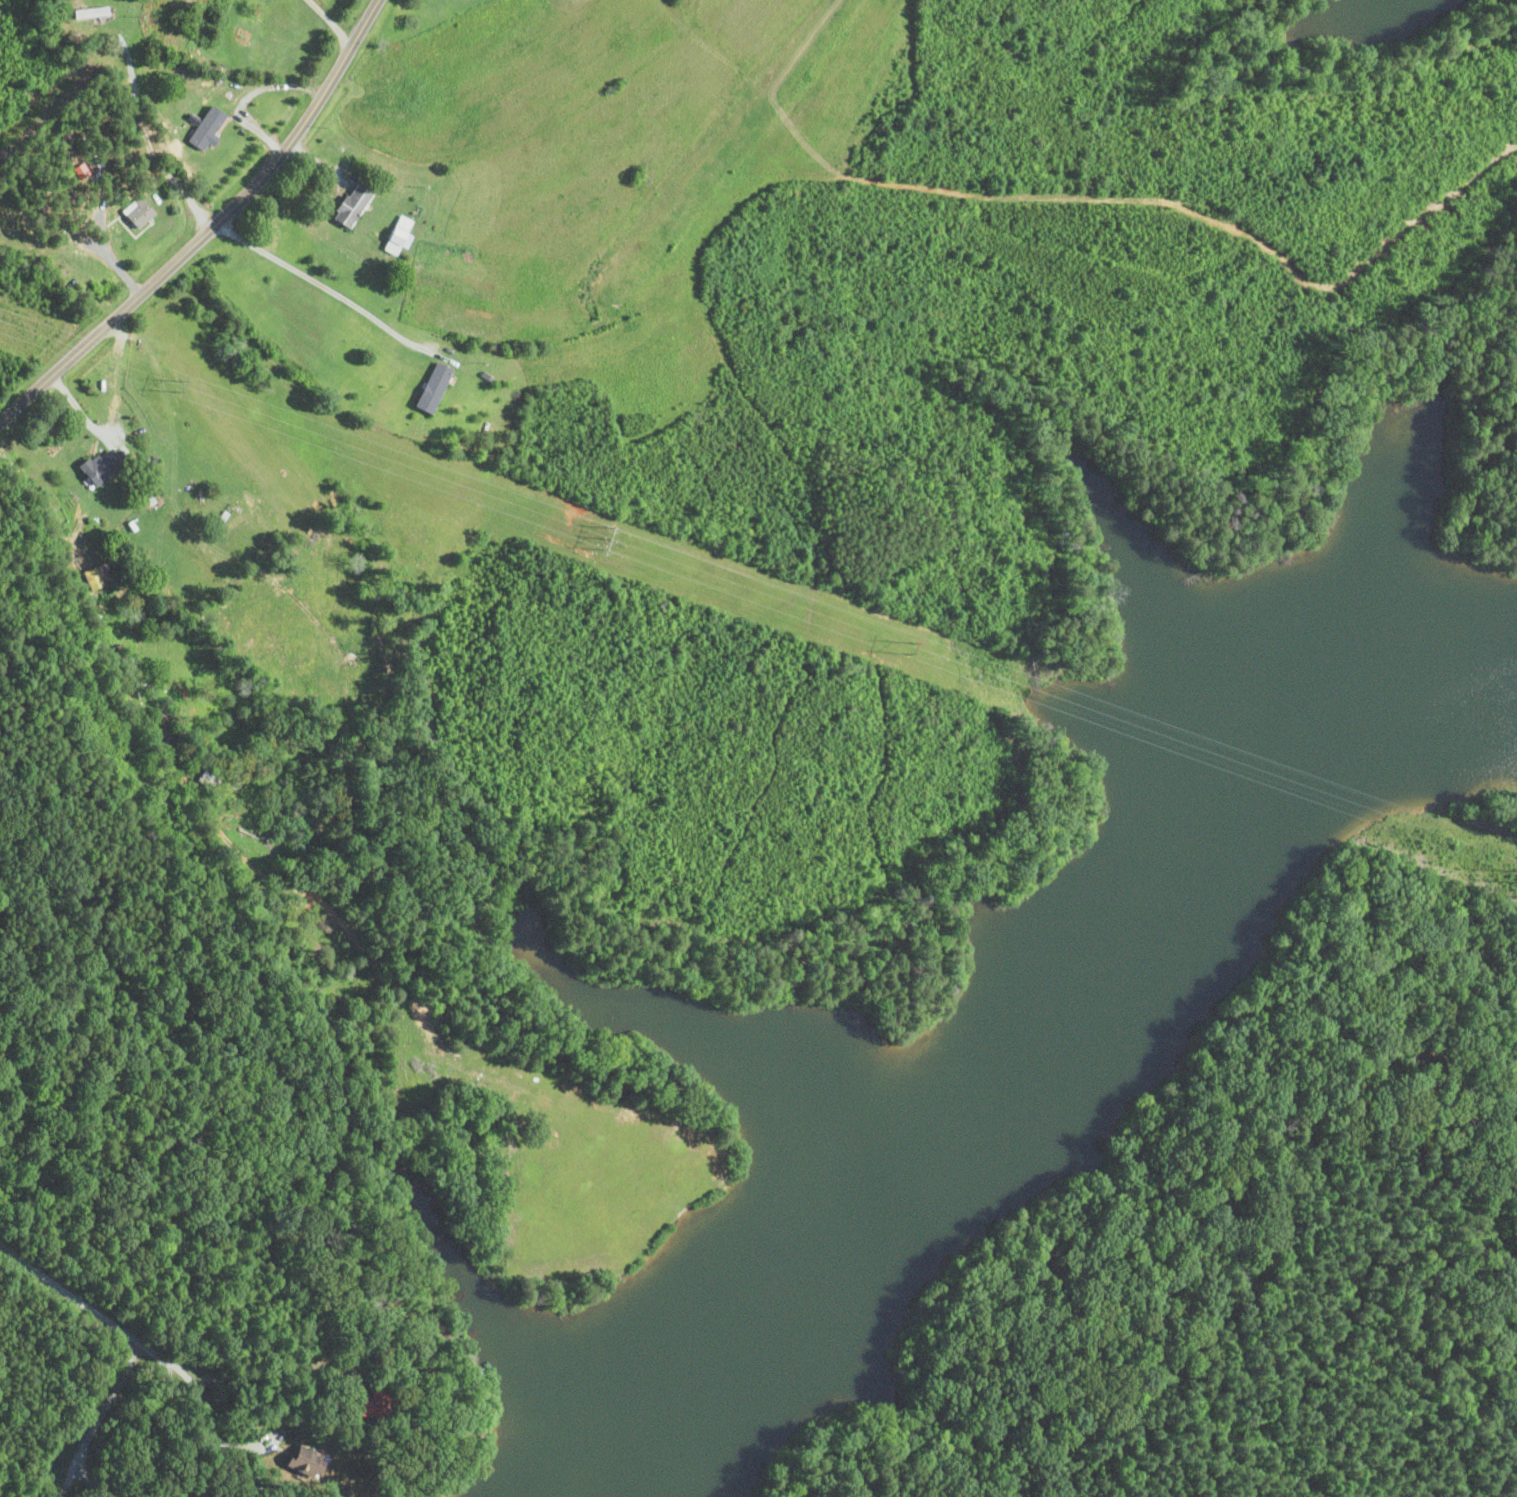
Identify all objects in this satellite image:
building: (92, 13)
road: (328, 24)
building: (209, 128)
building: (355, 206)
building: (141, 212)
road: (209, 226)
building: (400, 238)
power tower: (181, 385)
building: (436, 388)
building: (107, 465)
power tower: (597, 537)
power tower: (905, 650)
building: (210, 781)
road: (77, 1306)
building: (378, 1405)

